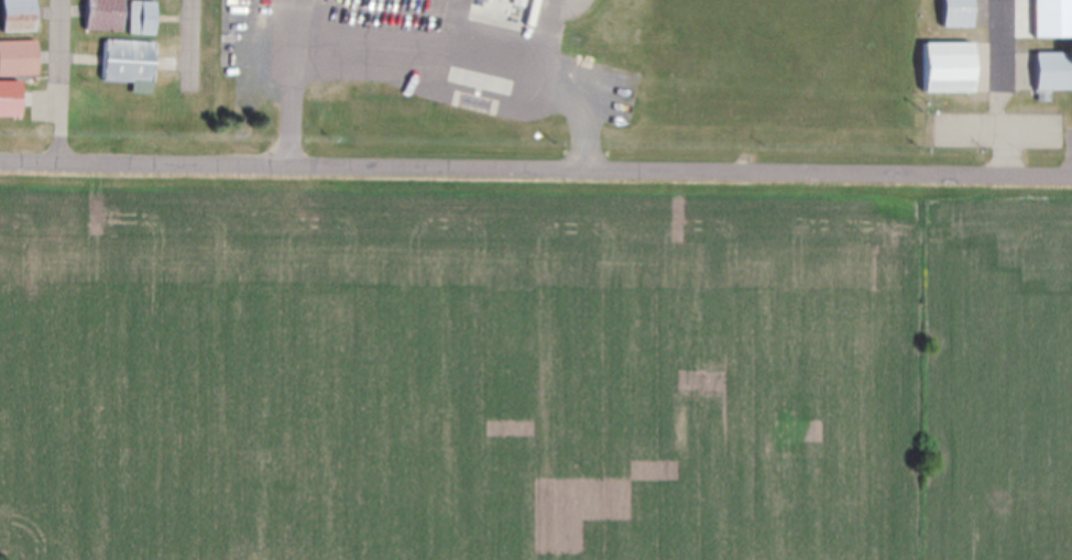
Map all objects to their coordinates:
airport taxiway: (190, 42)
airport taxiway: (1003, 42)
airport taxiway: (59, 63)
airport: (544, 74)
road: (297, 81)
road: (535, 164)

